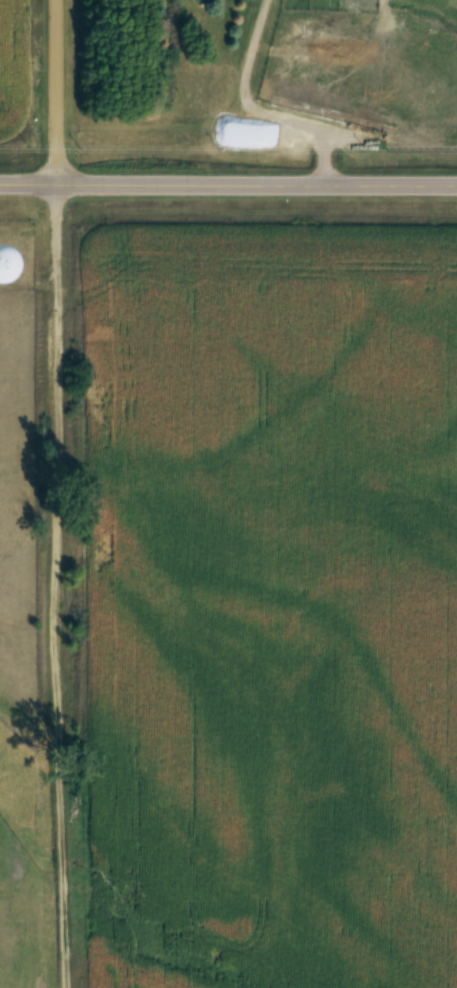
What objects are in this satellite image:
road: (56, 90)
road: (253, 109)
road: (228, 180)
road: (58, 584)

